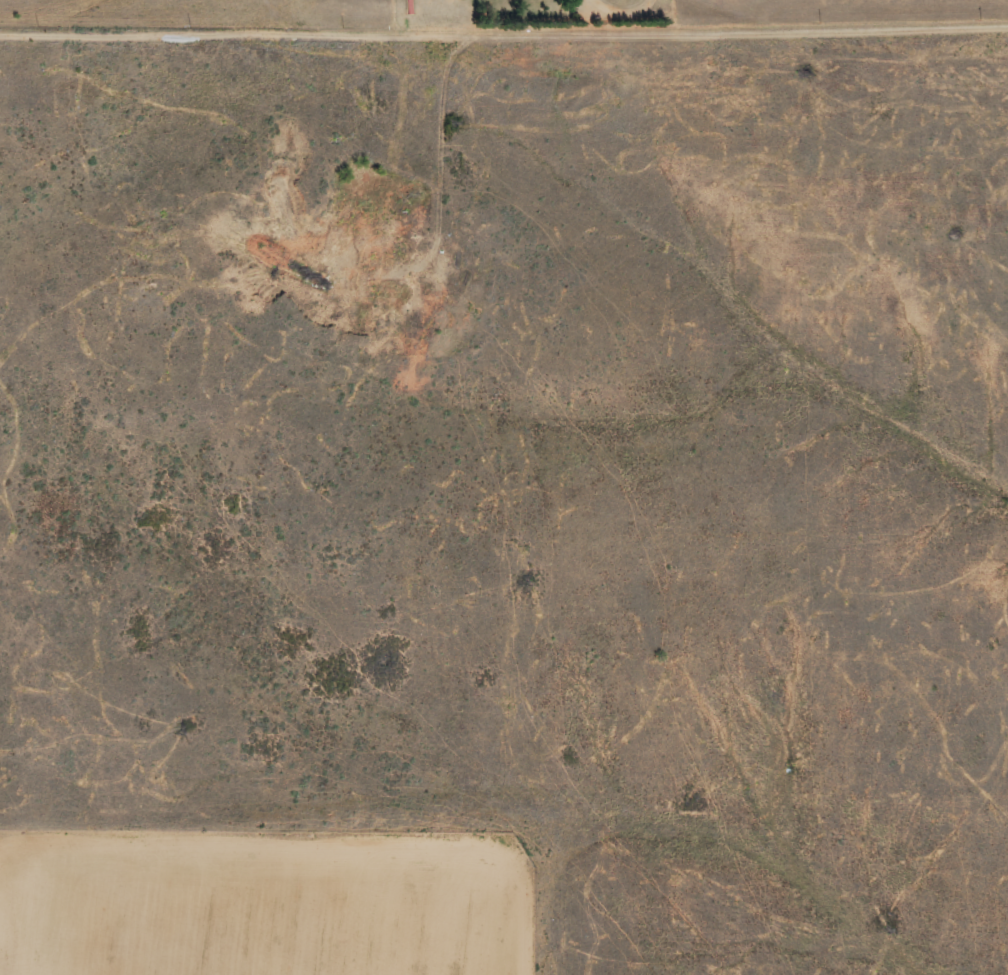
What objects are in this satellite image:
road: (855, 21)
road: (375, 29)

